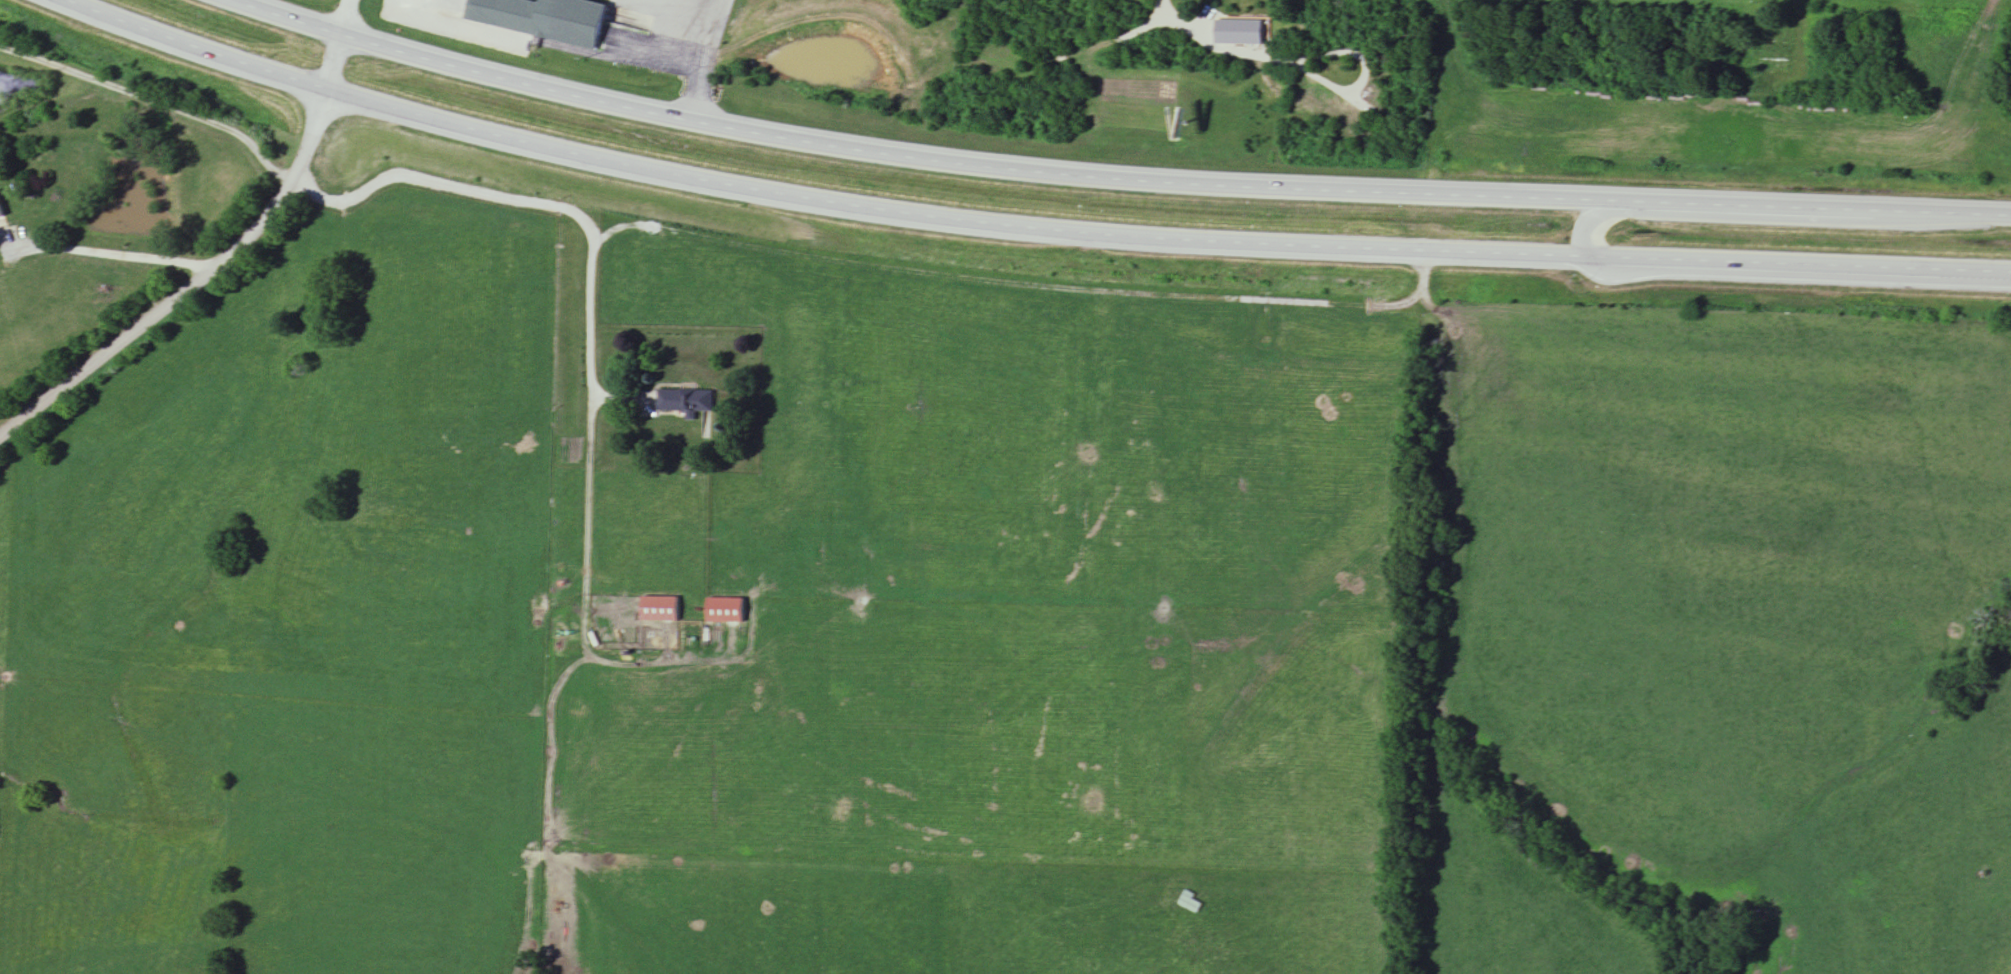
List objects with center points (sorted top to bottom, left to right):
road: (444, 0)
building: (542, 19)
road: (1800, 48)
road: (705, 61)
building: (1762, 67)
road: (153, 101)
road: (1117, 183)
road: (540, 203)
building: (1, 213)
road: (1587, 222)
road: (1027, 232)
road: (110, 254)
road: (229, 257)
road: (1020, 281)
building: (685, 401)
road: (586, 515)
building: (660, 609)
building: (725, 610)

